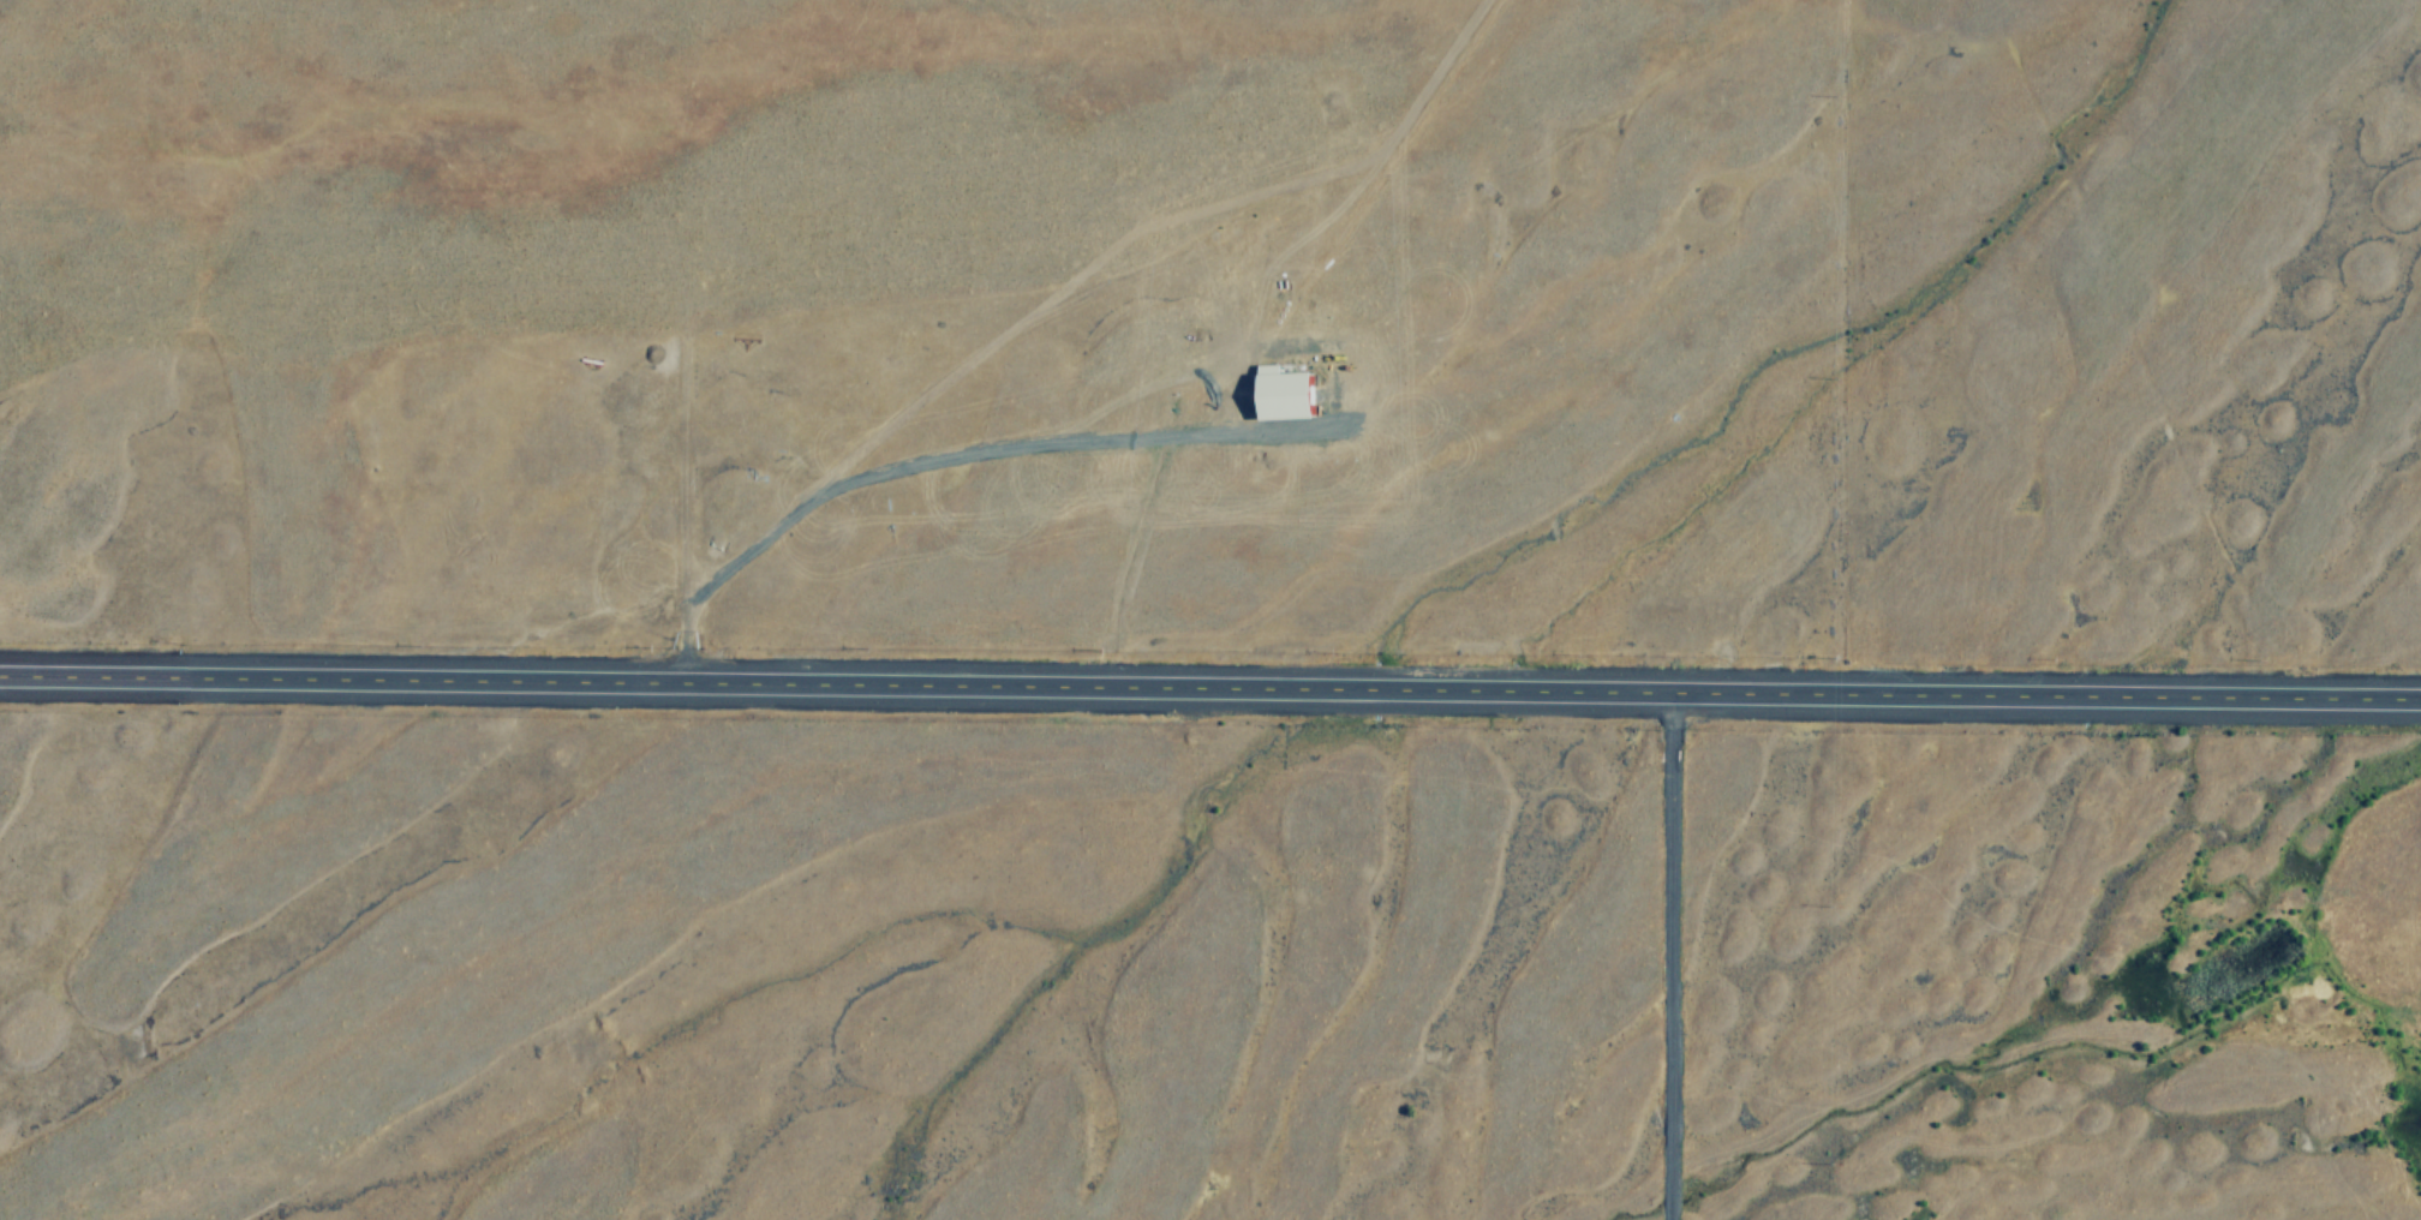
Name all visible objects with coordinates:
road: (1209, 686)
road: (1660, 955)

